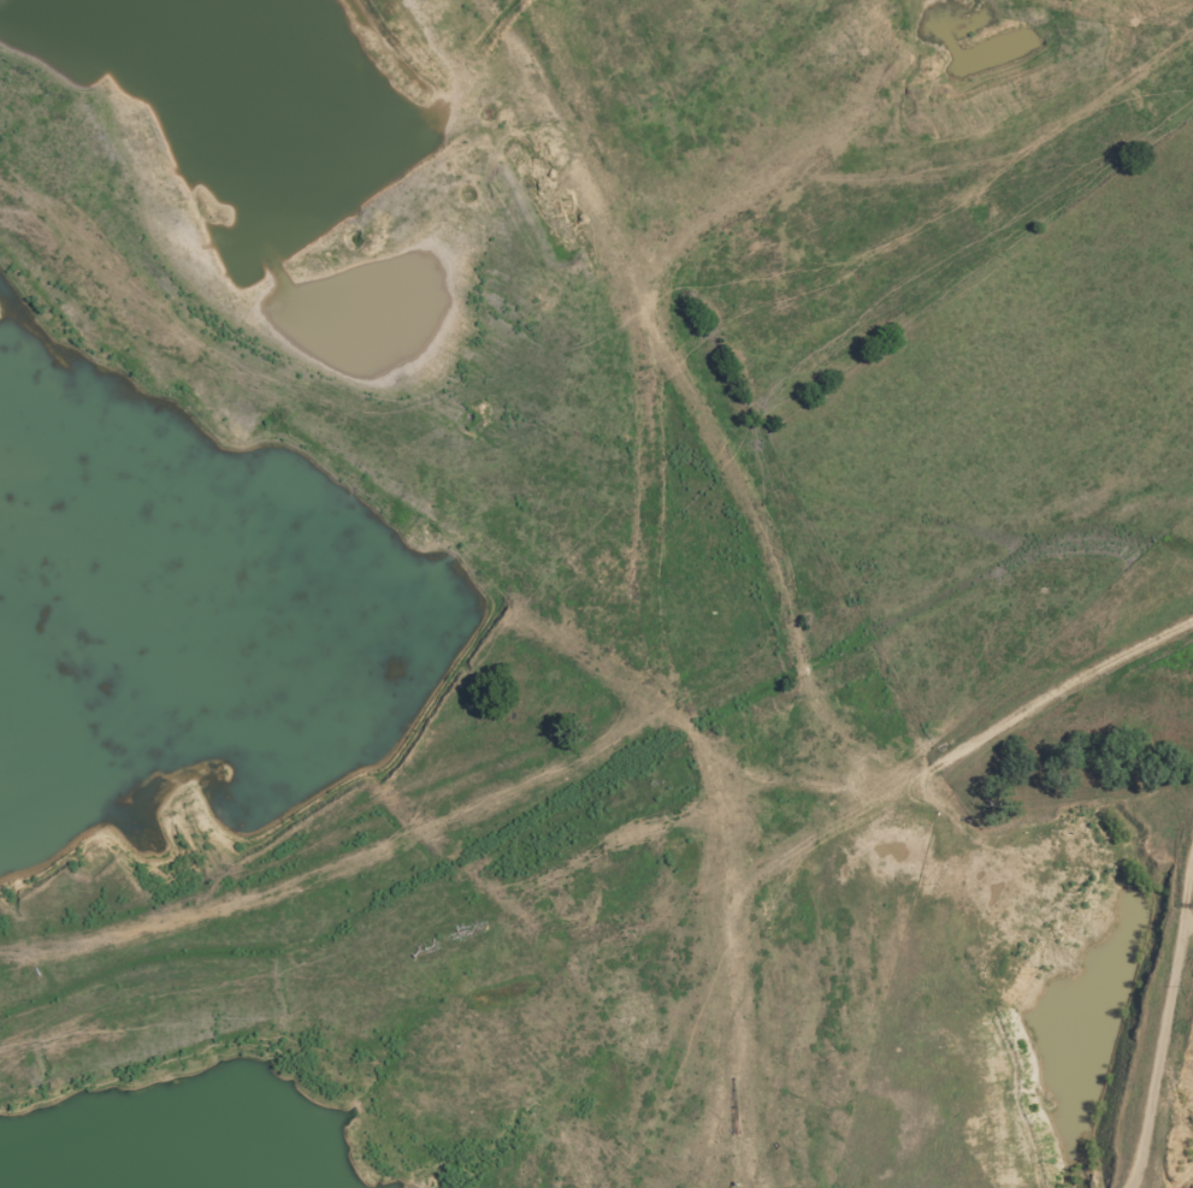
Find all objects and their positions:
building: (1051, 876)
road: (1160, 1032)

